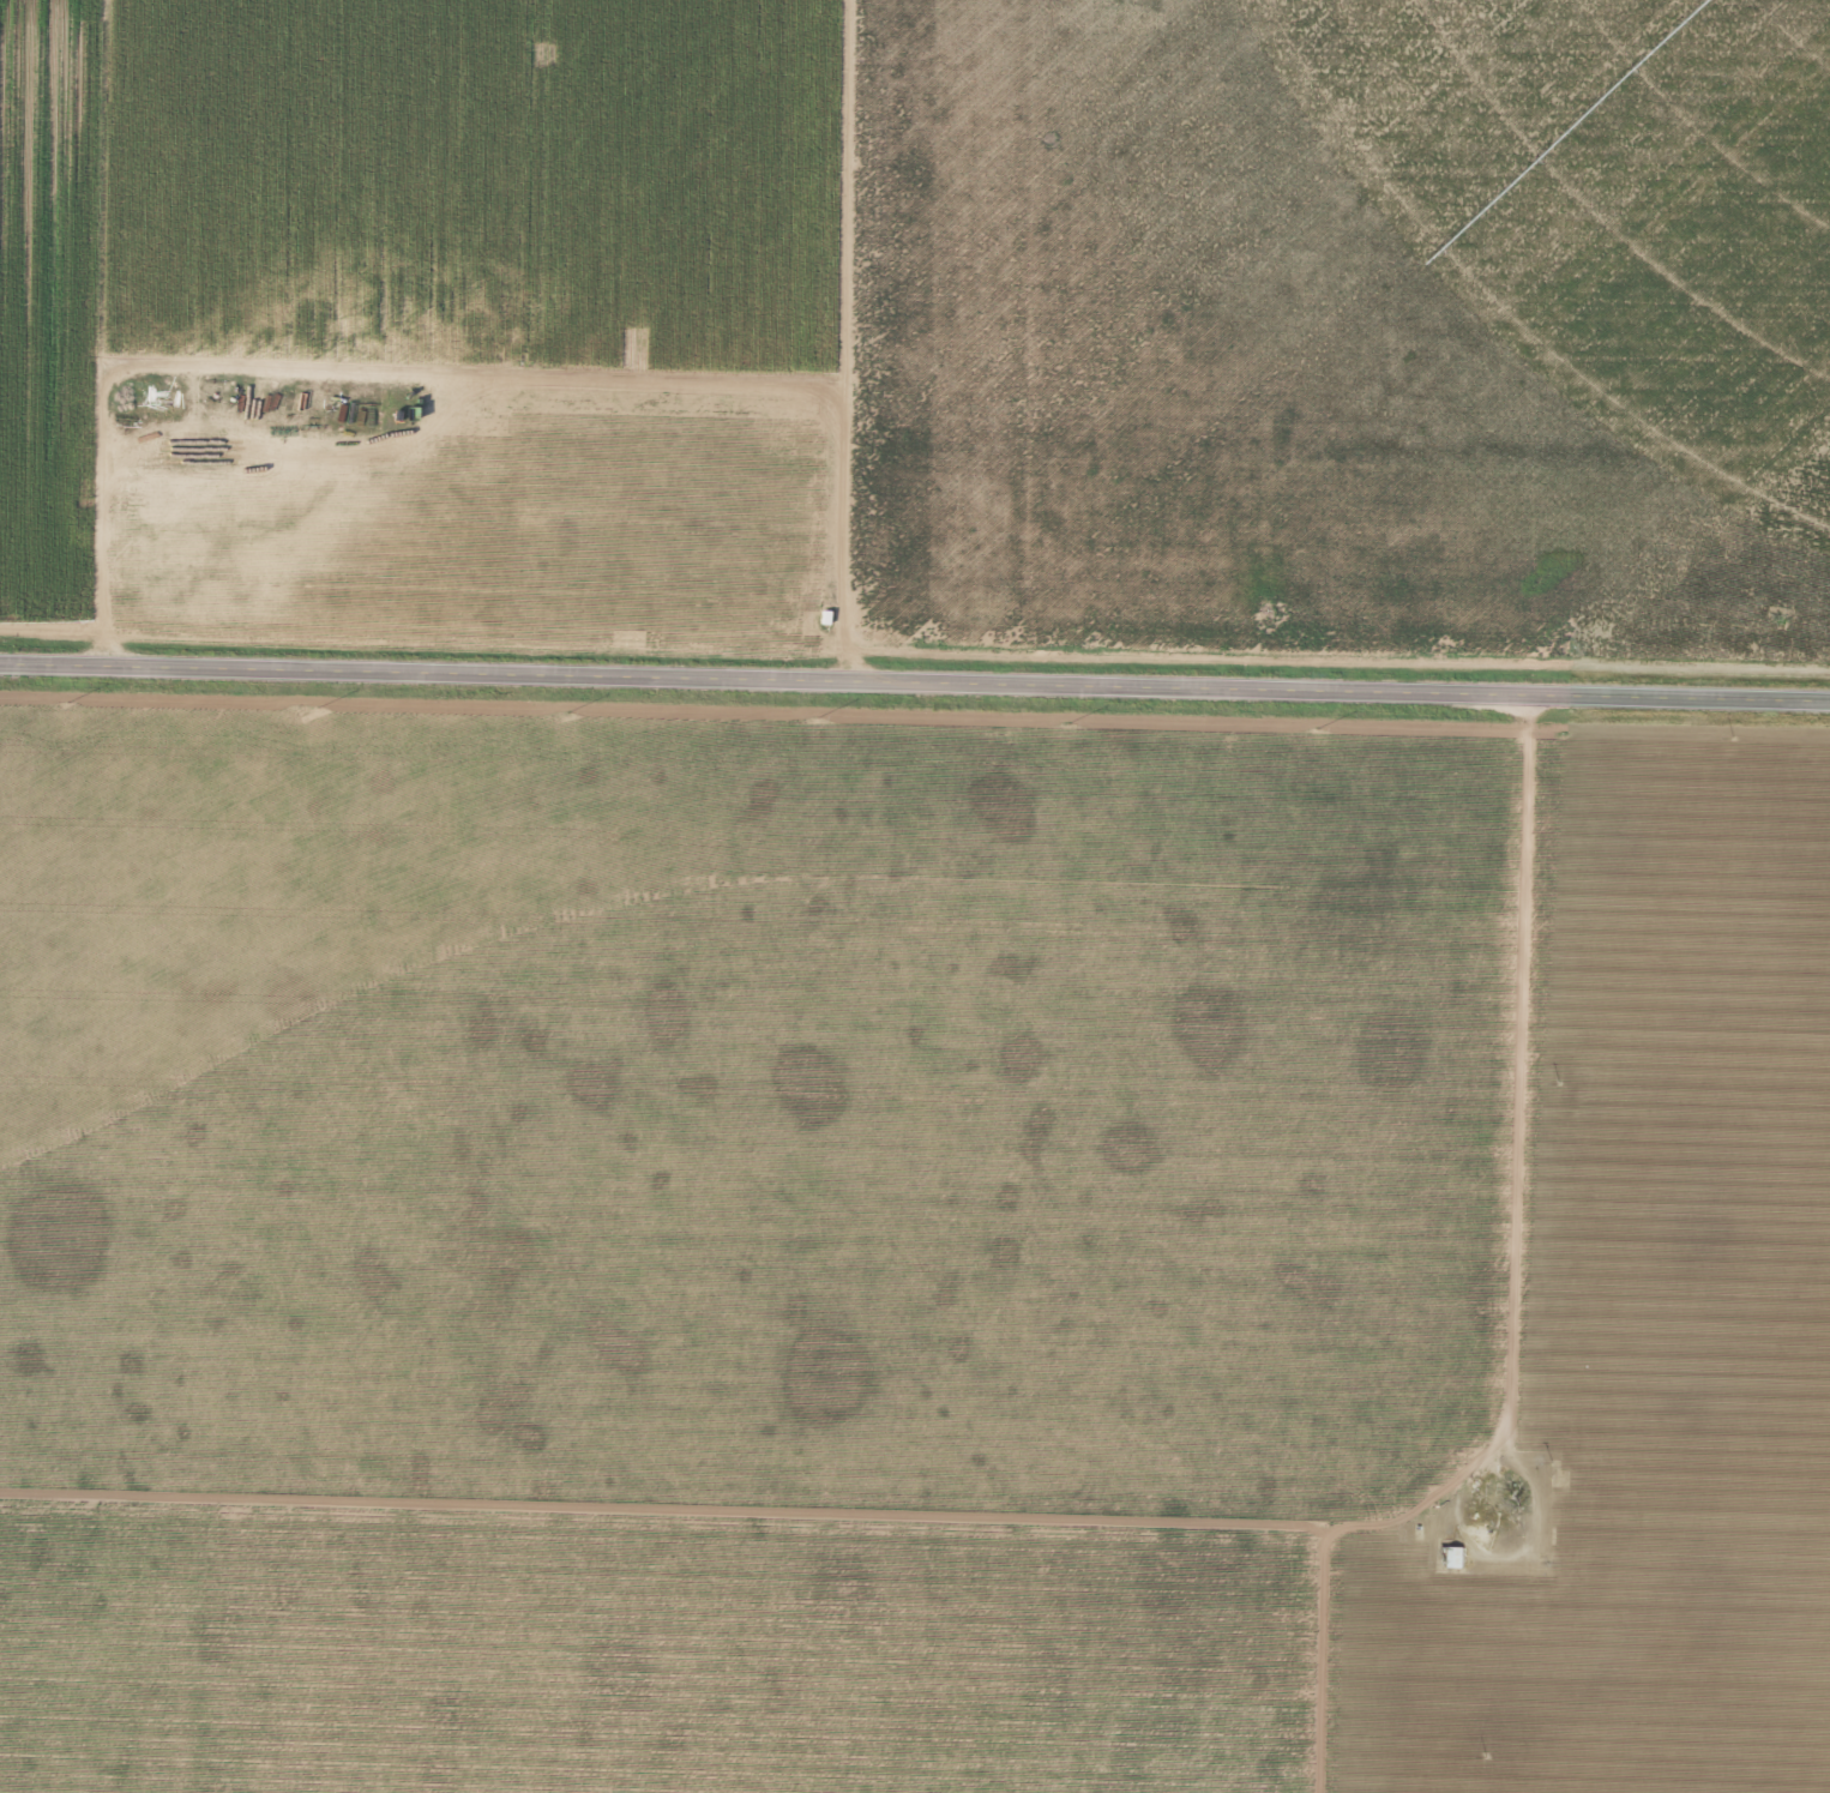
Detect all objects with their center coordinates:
road: (915, 688)
road: (1495, 1102)

